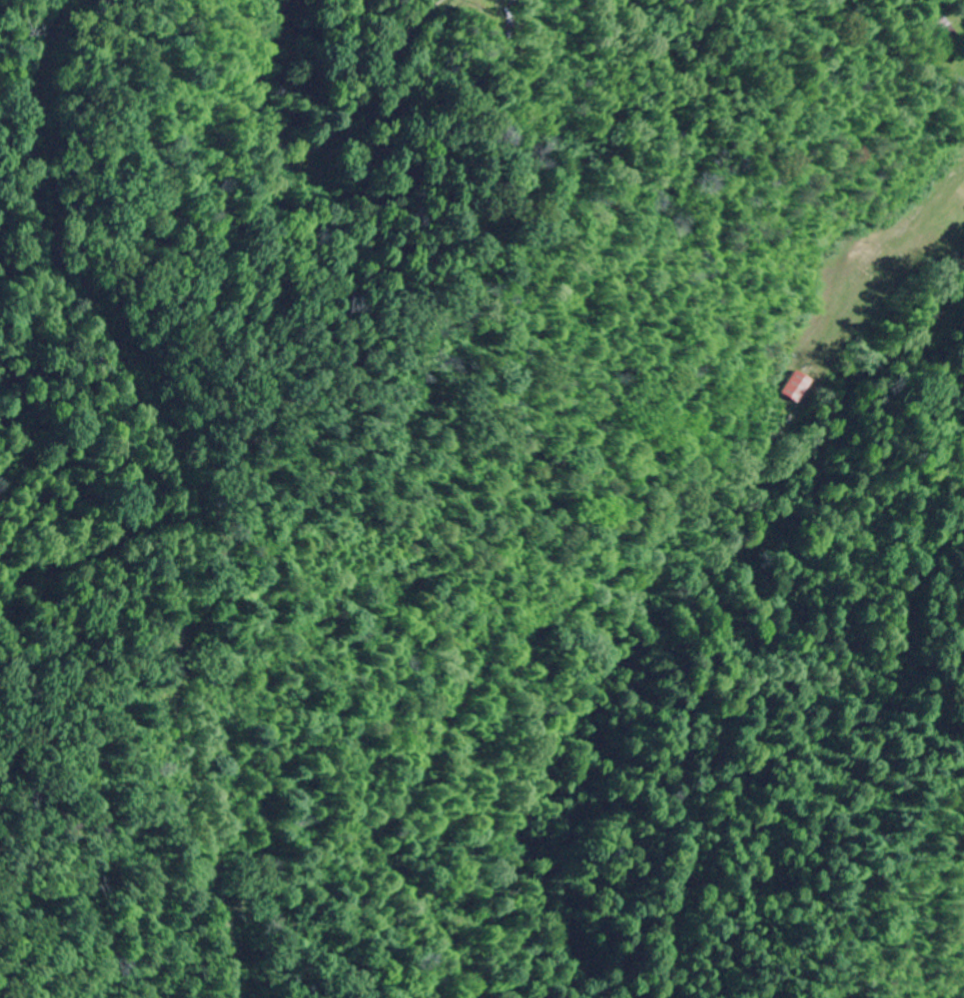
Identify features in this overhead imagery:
building: (795, 387)

